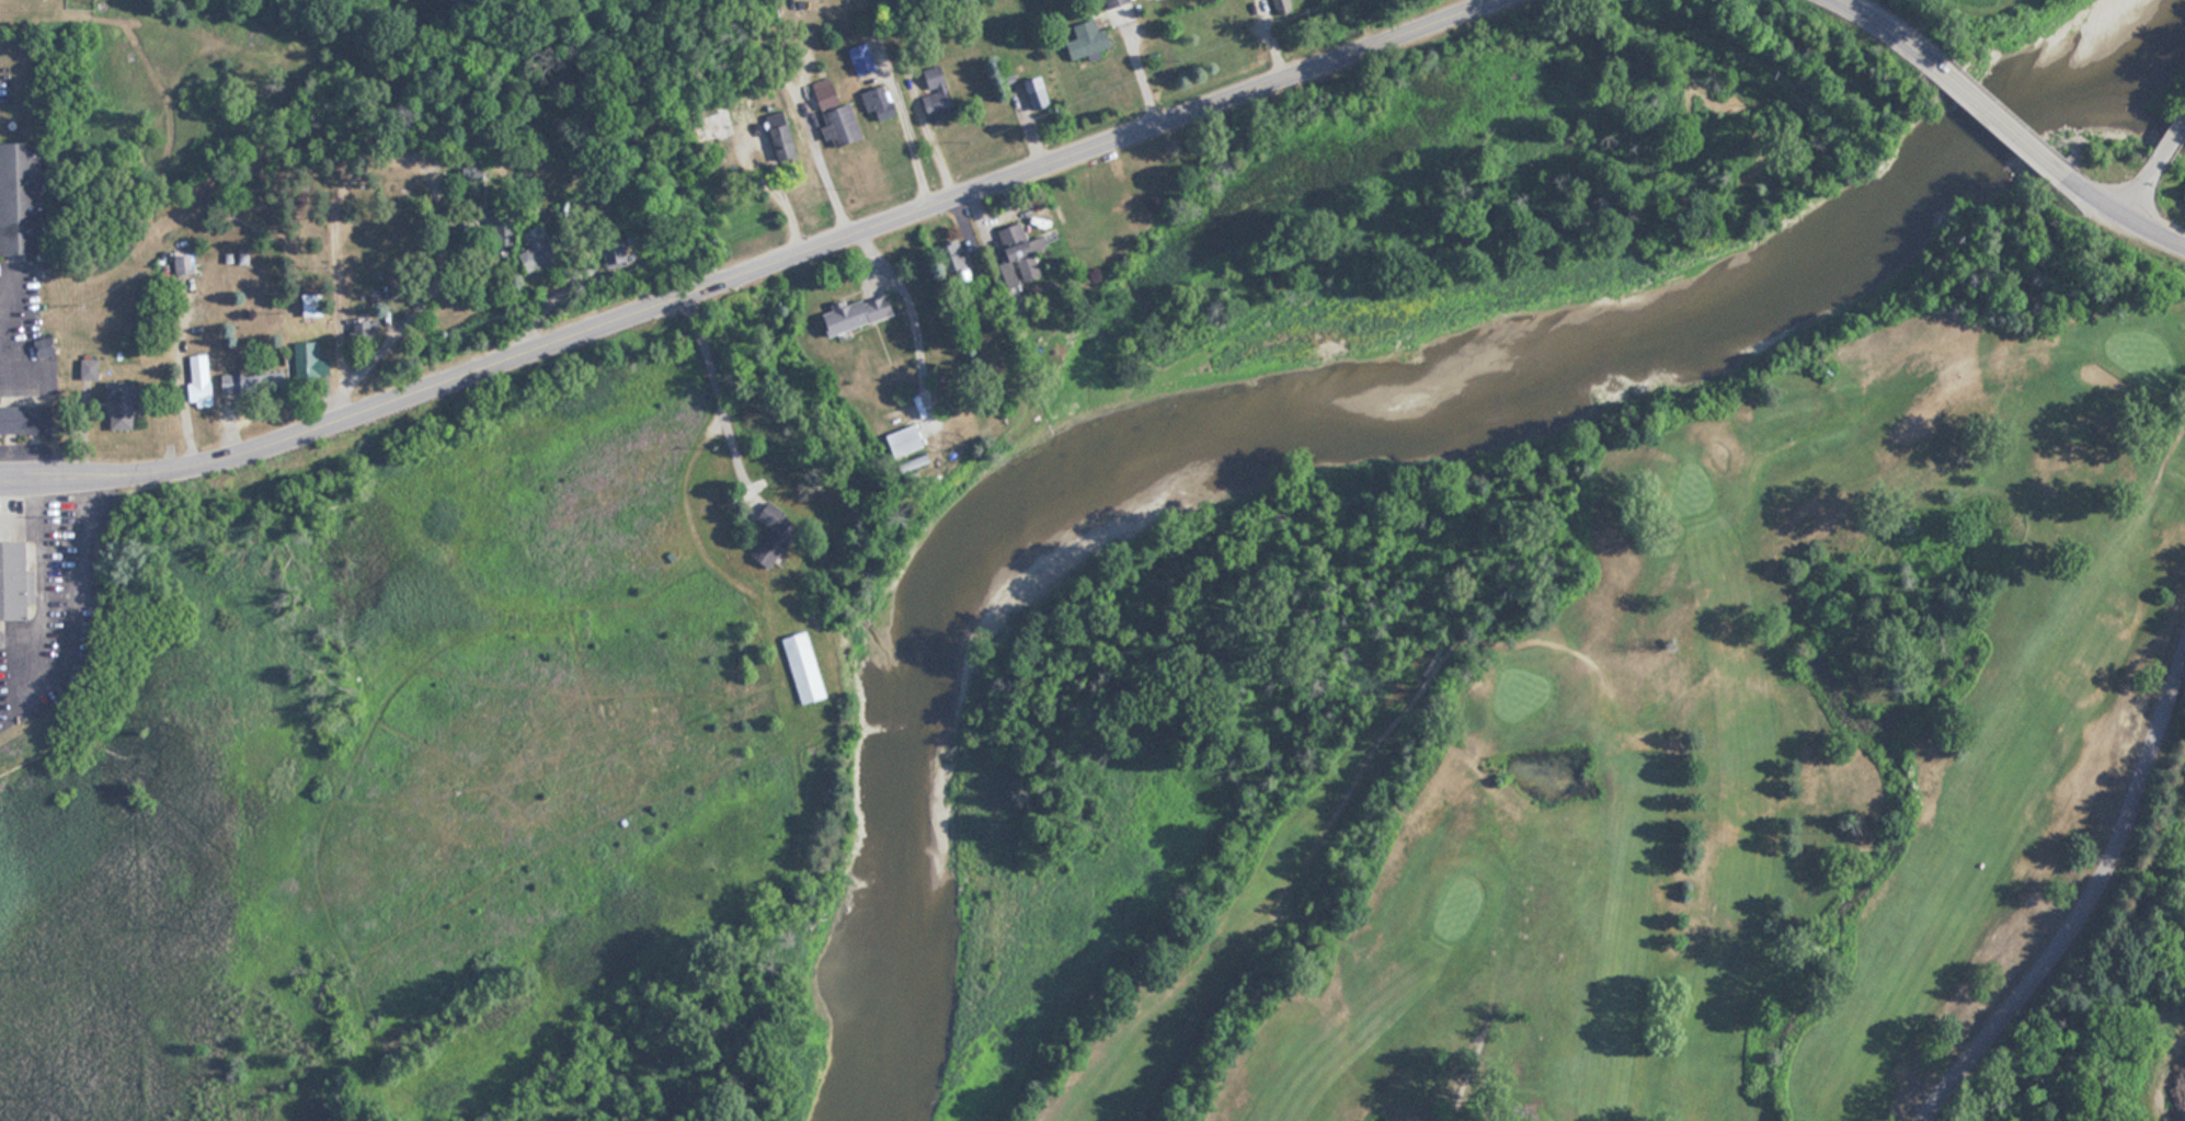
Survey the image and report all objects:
building: (1119, 2)
building: (1285, 7)
park: (384, 13)
road: (1879, 22)
building: (1090, 39)
building: (865, 59)
road: (1134, 64)
building: (832, 91)
building: (939, 93)
building: (1040, 94)
building: (878, 100)
road: (1995, 116)
building: (845, 125)
building: (783, 135)
road: (2171, 138)
road: (815, 161)
road: (2140, 188)
building: (1110, 191)
building: (22, 201)
road: (2126, 218)
building: (1021, 254)
building: (547, 256)
building: (186, 265)
road: (748, 270)
building: (857, 291)
road: (426, 300)
building: (316, 307)
road: (907, 311)
building: (366, 335)
building: (312, 361)
building: (203, 380)
building: (254, 384)
river: (1315, 391)
road: (719, 401)
building: (124, 405)
building: (28, 419)
building: (908, 439)
building: (778, 531)
building: (18, 580)
building: (806, 667)
park: (1681, 739)
road: (2087, 906)

